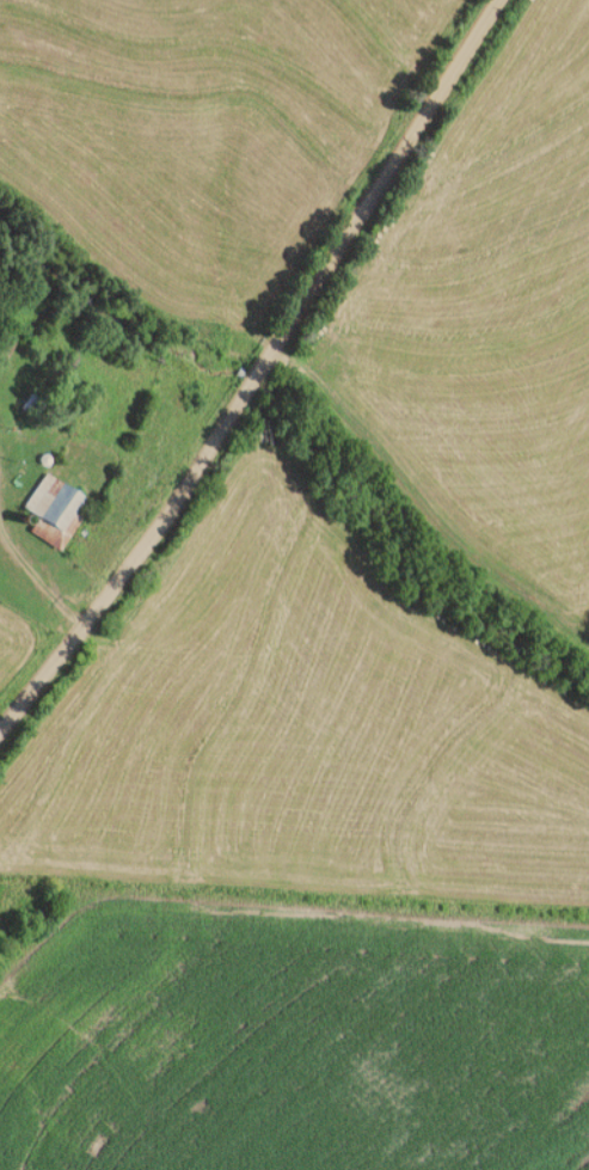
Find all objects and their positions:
building: (7, 343)
road: (260, 372)
building: (55, 510)
road: (42, 581)

